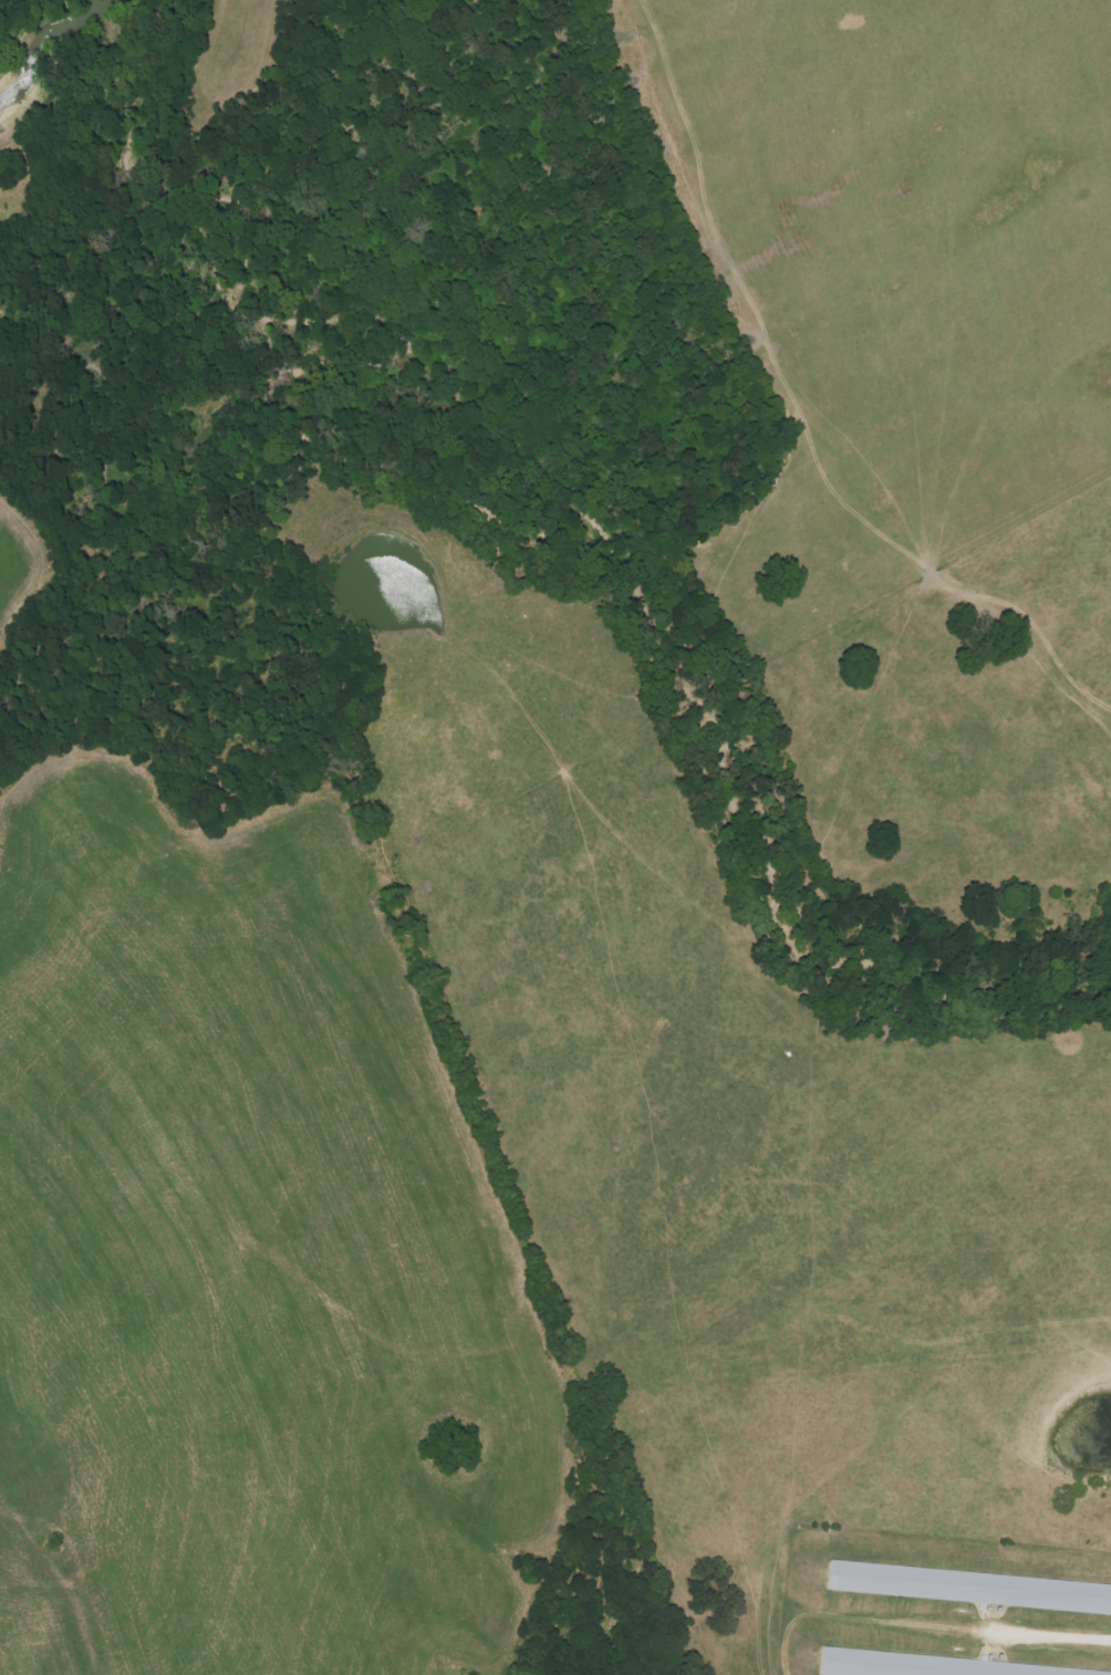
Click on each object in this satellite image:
building: (968, 1586)
road: (1050, 1634)
building: (934, 1665)

